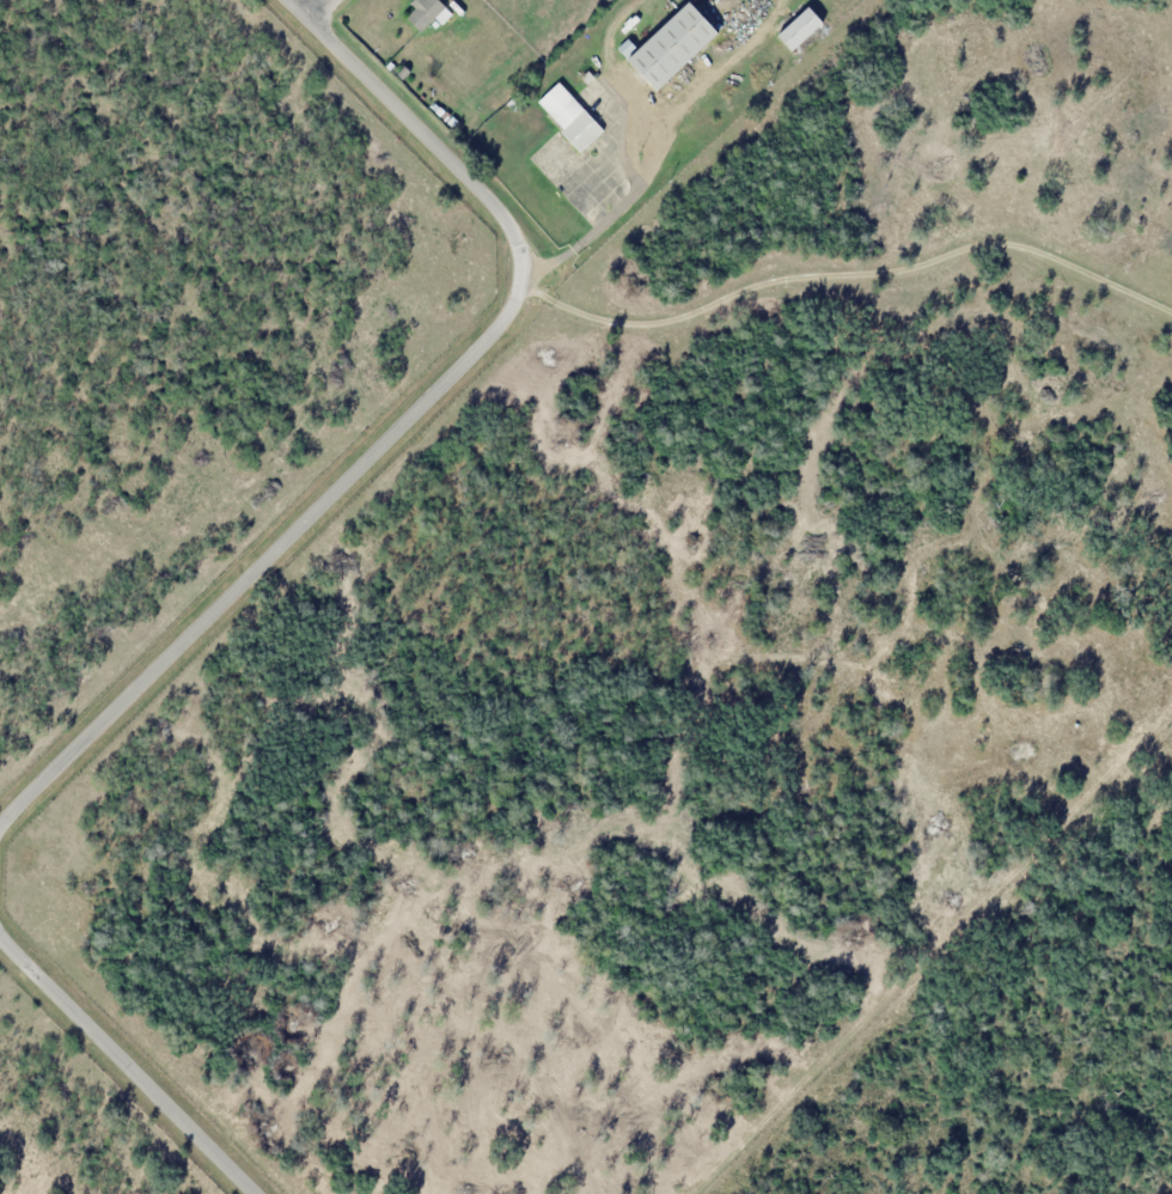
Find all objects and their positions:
road: (317, 6)
building: (427, 12)
building: (799, 28)
building: (672, 44)
building: (569, 116)
road: (616, 217)
road: (847, 273)
road: (398, 428)
road: (130, 1060)

